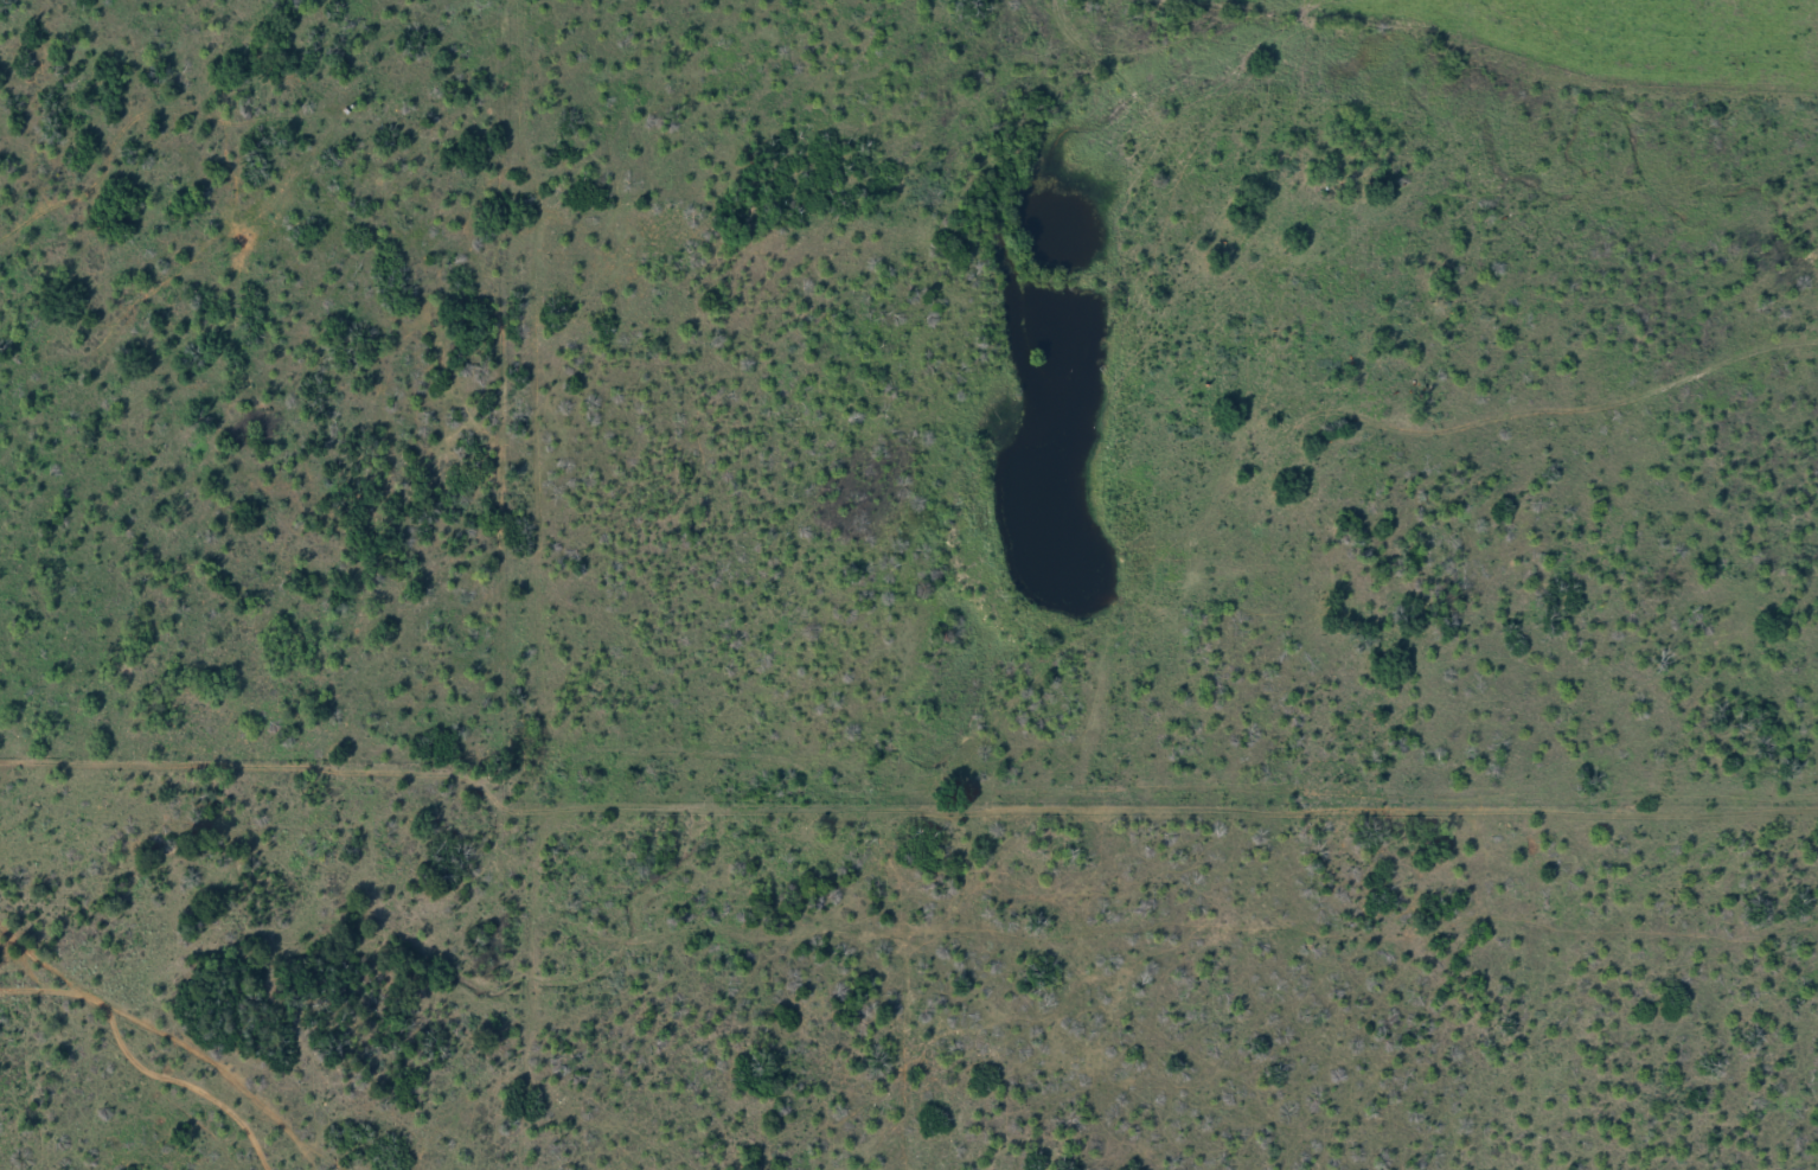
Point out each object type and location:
road: (188, 1032)

